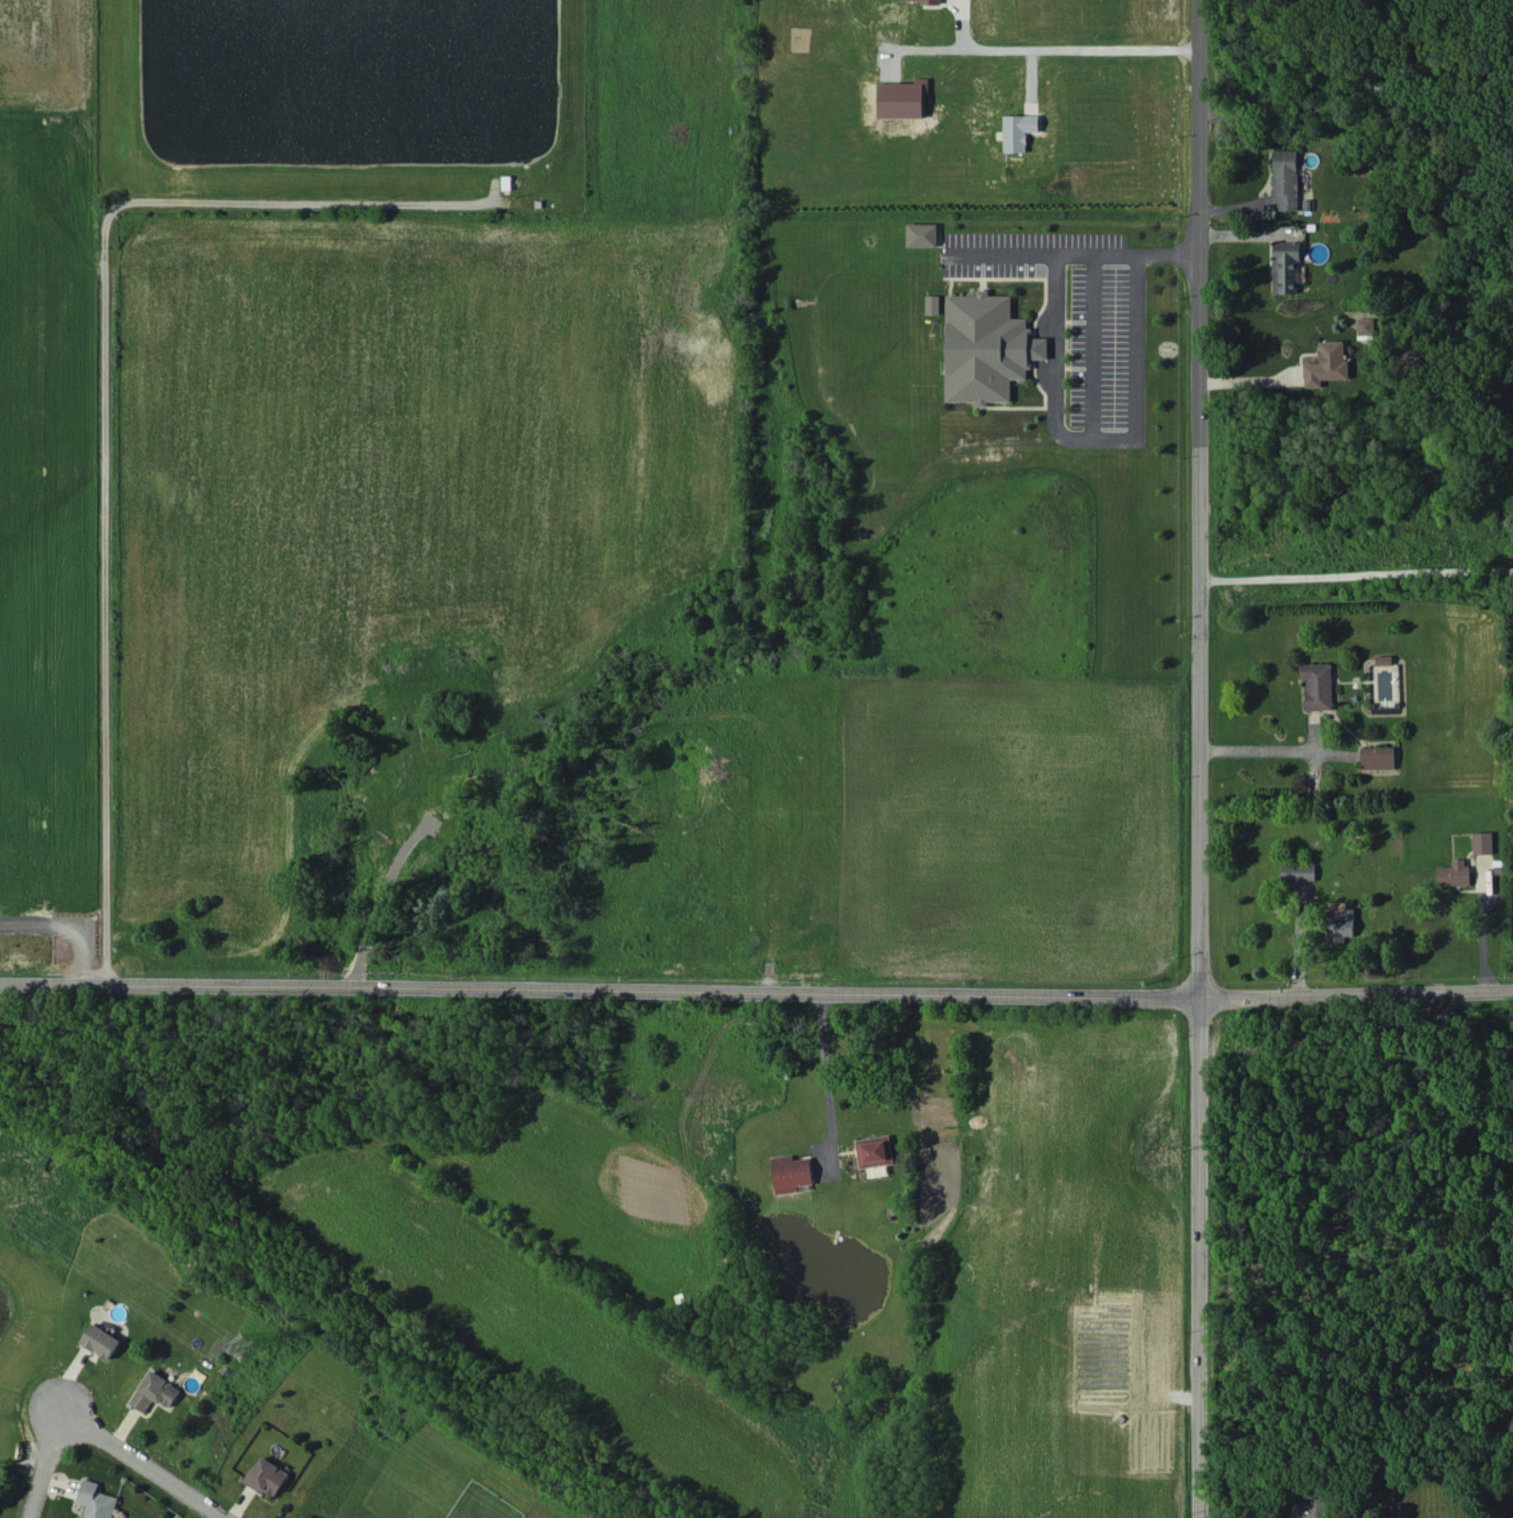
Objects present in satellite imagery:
building: (930, 1)
road: (1059, 44)
road: (1360, 90)
building: (902, 99)
building: (1018, 131)
building: (1286, 178)
building: (508, 182)
building: (922, 235)
road: (1073, 254)
building: (1285, 267)
building: (933, 304)
building: (1365, 328)
building: (986, 347)
road: (1091, 347)
building: (1327, 364)
road: (102, 408)
road: (1097, 440)
road: (1358, 571)
building: (1317, 686)
road: (1259, 747)
building: (1378, 757)
road: (1199, 758)
building: (1482, 842)
building: (1298, 871)
building: (1453, 873)
building: (1342, 926)
road: (63, 927)
road: (756, 992)
road: (827, 1077)
building: (874, 1151)
building: (791, 1173)
power tower: (234, 1339)
building: (100, 1340)
building: (154, 1391)
road: (44, 1463)
road: (144, 1463)
building: (266, 1476)
building: (95, 1501)
building: (1311, 1503)

